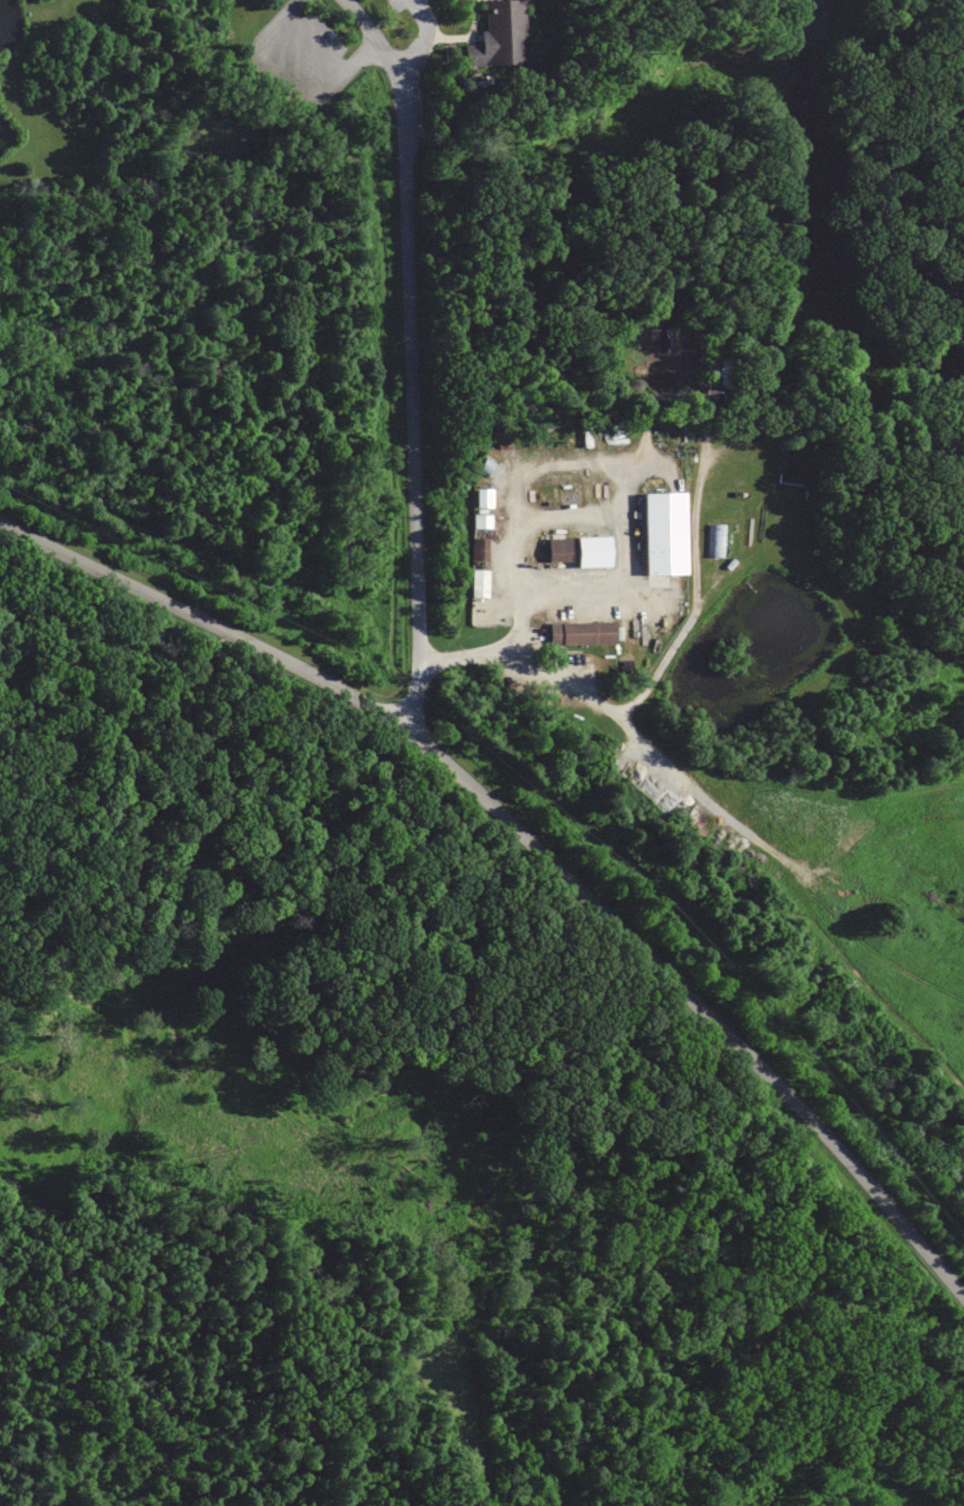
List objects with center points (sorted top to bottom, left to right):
parking lot: (403, 5)
building: (501, 35)
road: (422, 38)
road: (318, 42)
parking lot: (304, 56)
road: (295, 83)
road: (147, 195)
road: (410, 357)
road: (549, 467)
building: (481, 521)
building: (663, 532)
building: (575, 548)
building: (478, 549)
building: (478, 584)
building: (581, 632)
road: (663, 666)
road: (438, 710)
road: (532, 844)
road: (613, 1152)
road: (79, 1459)

